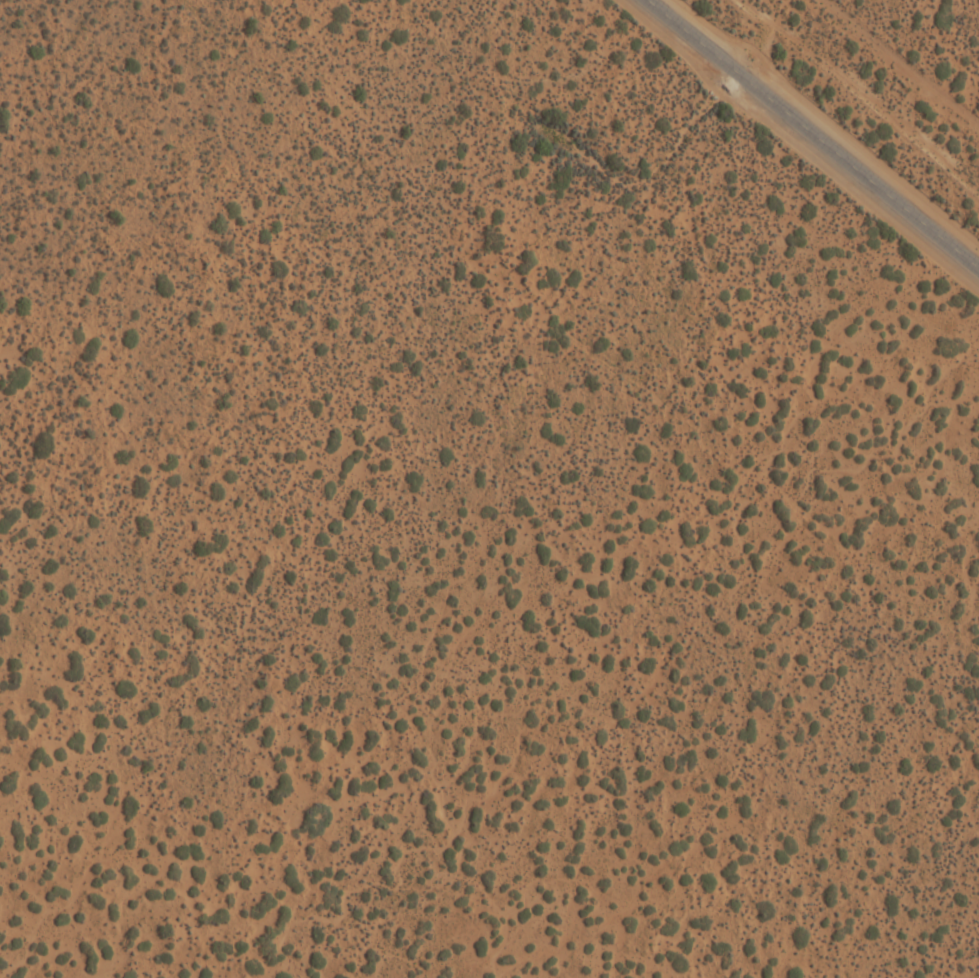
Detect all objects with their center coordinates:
road: (814, 131)

